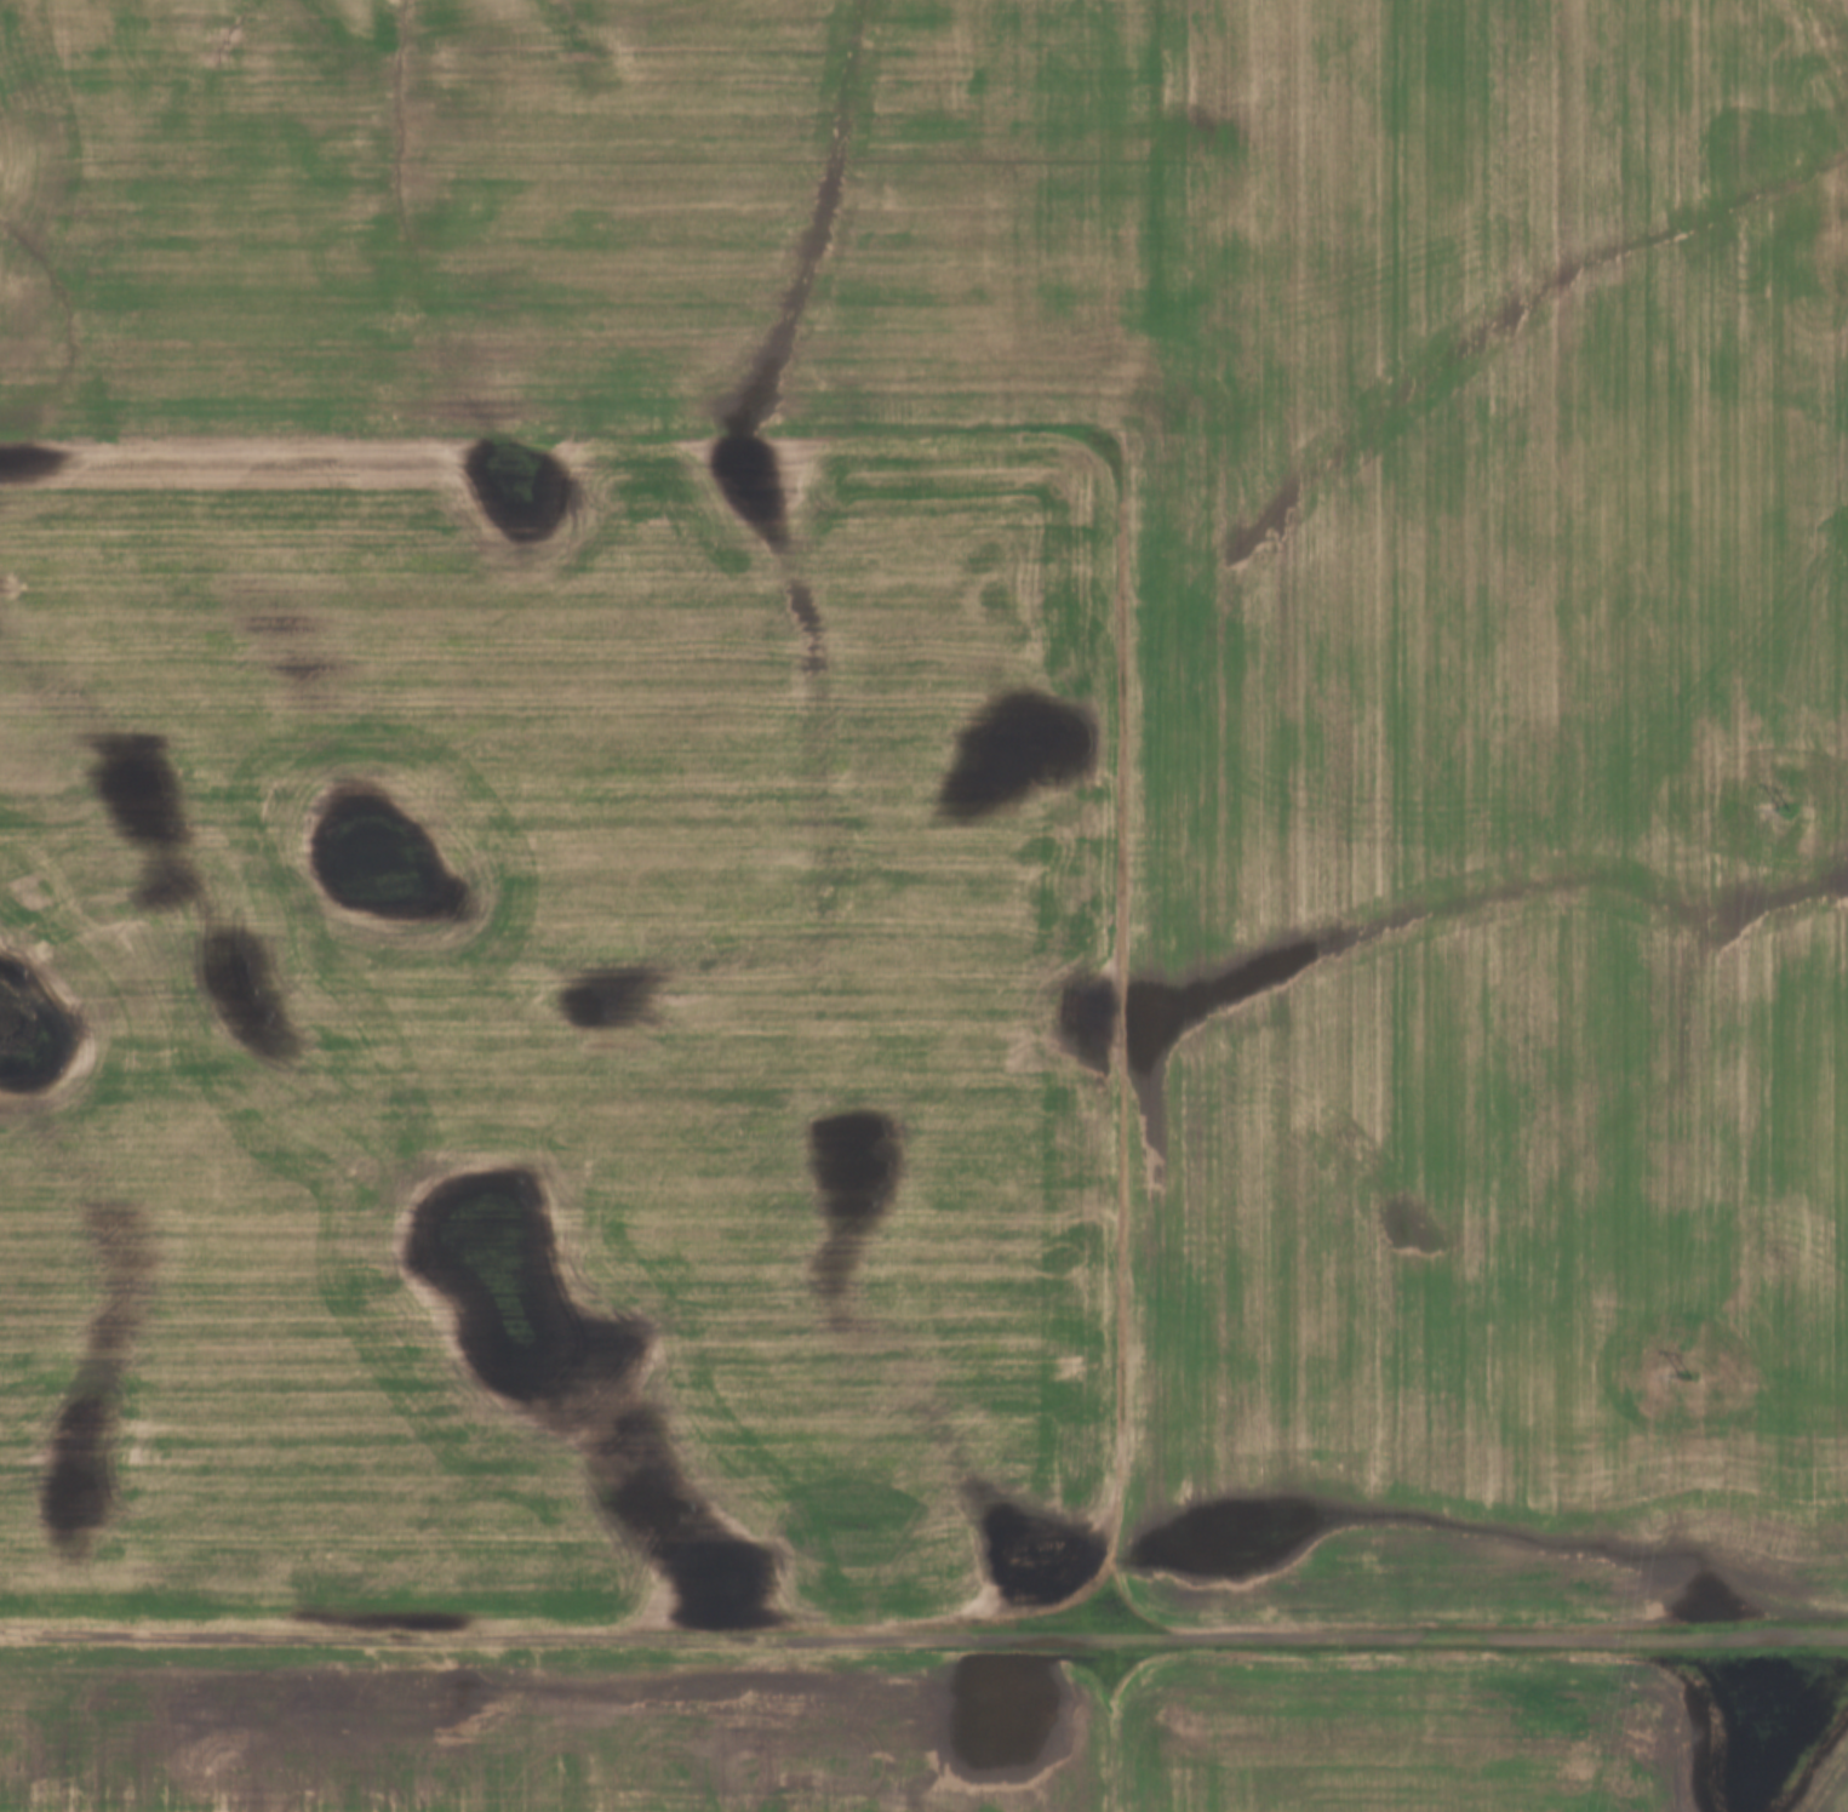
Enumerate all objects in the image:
road: (923, 1639)

